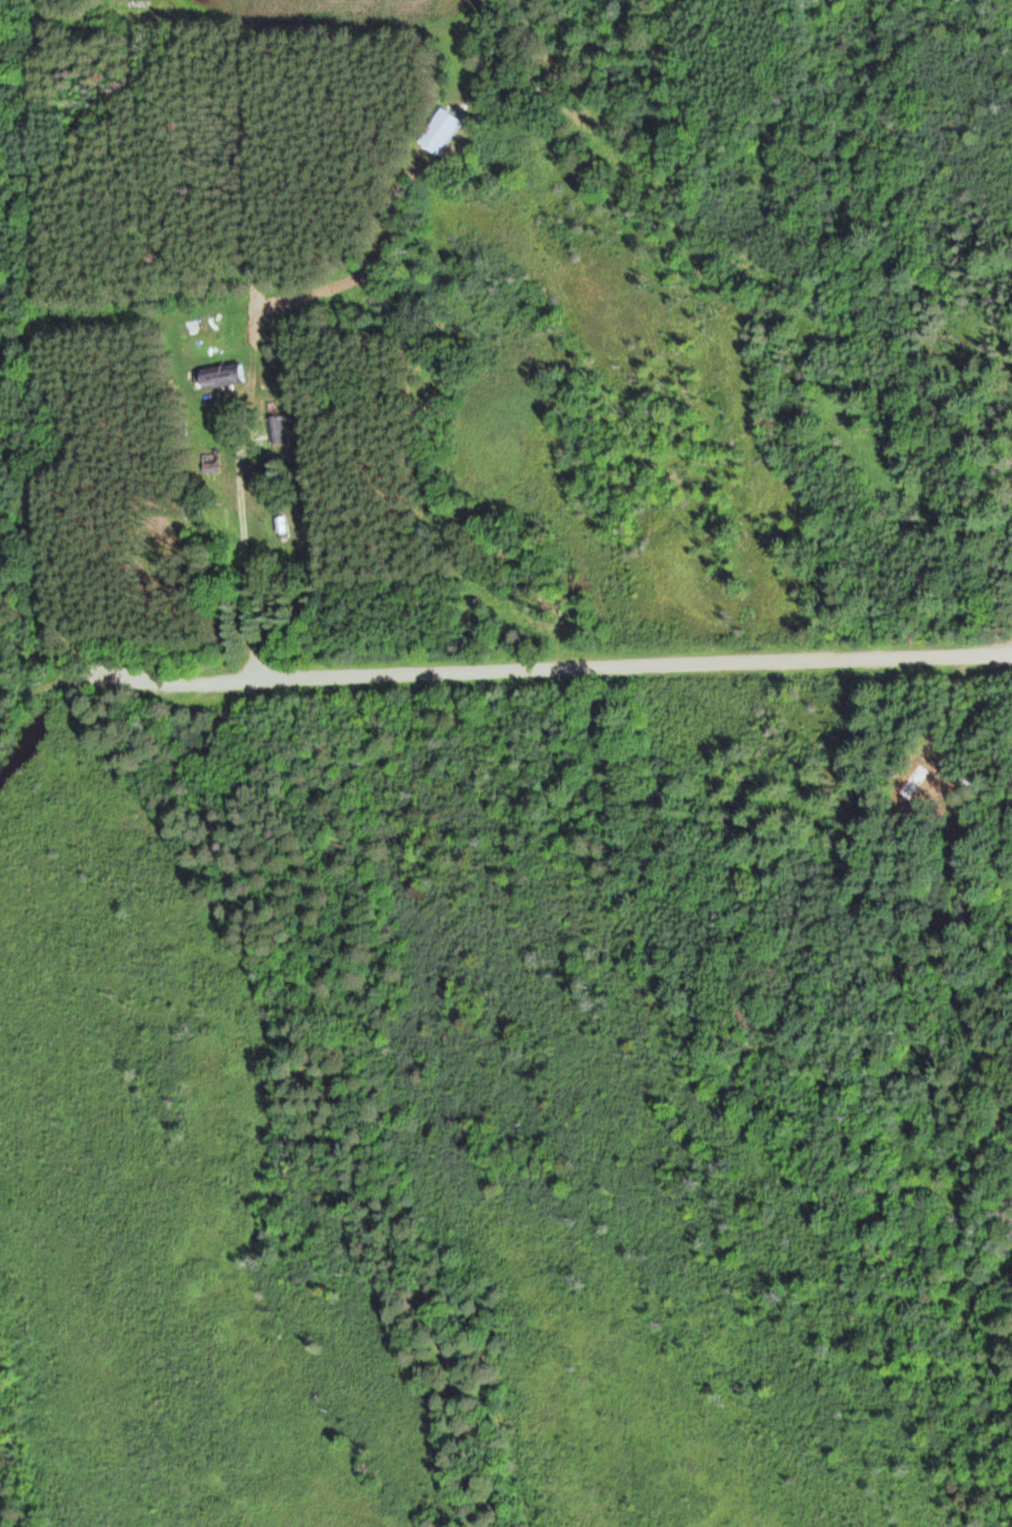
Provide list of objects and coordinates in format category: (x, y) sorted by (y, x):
building: (442, 129)
building: (226, 378)
building: (211, 463)
road: (244, 565)
road: (70, 641)
road: (587, 668)

